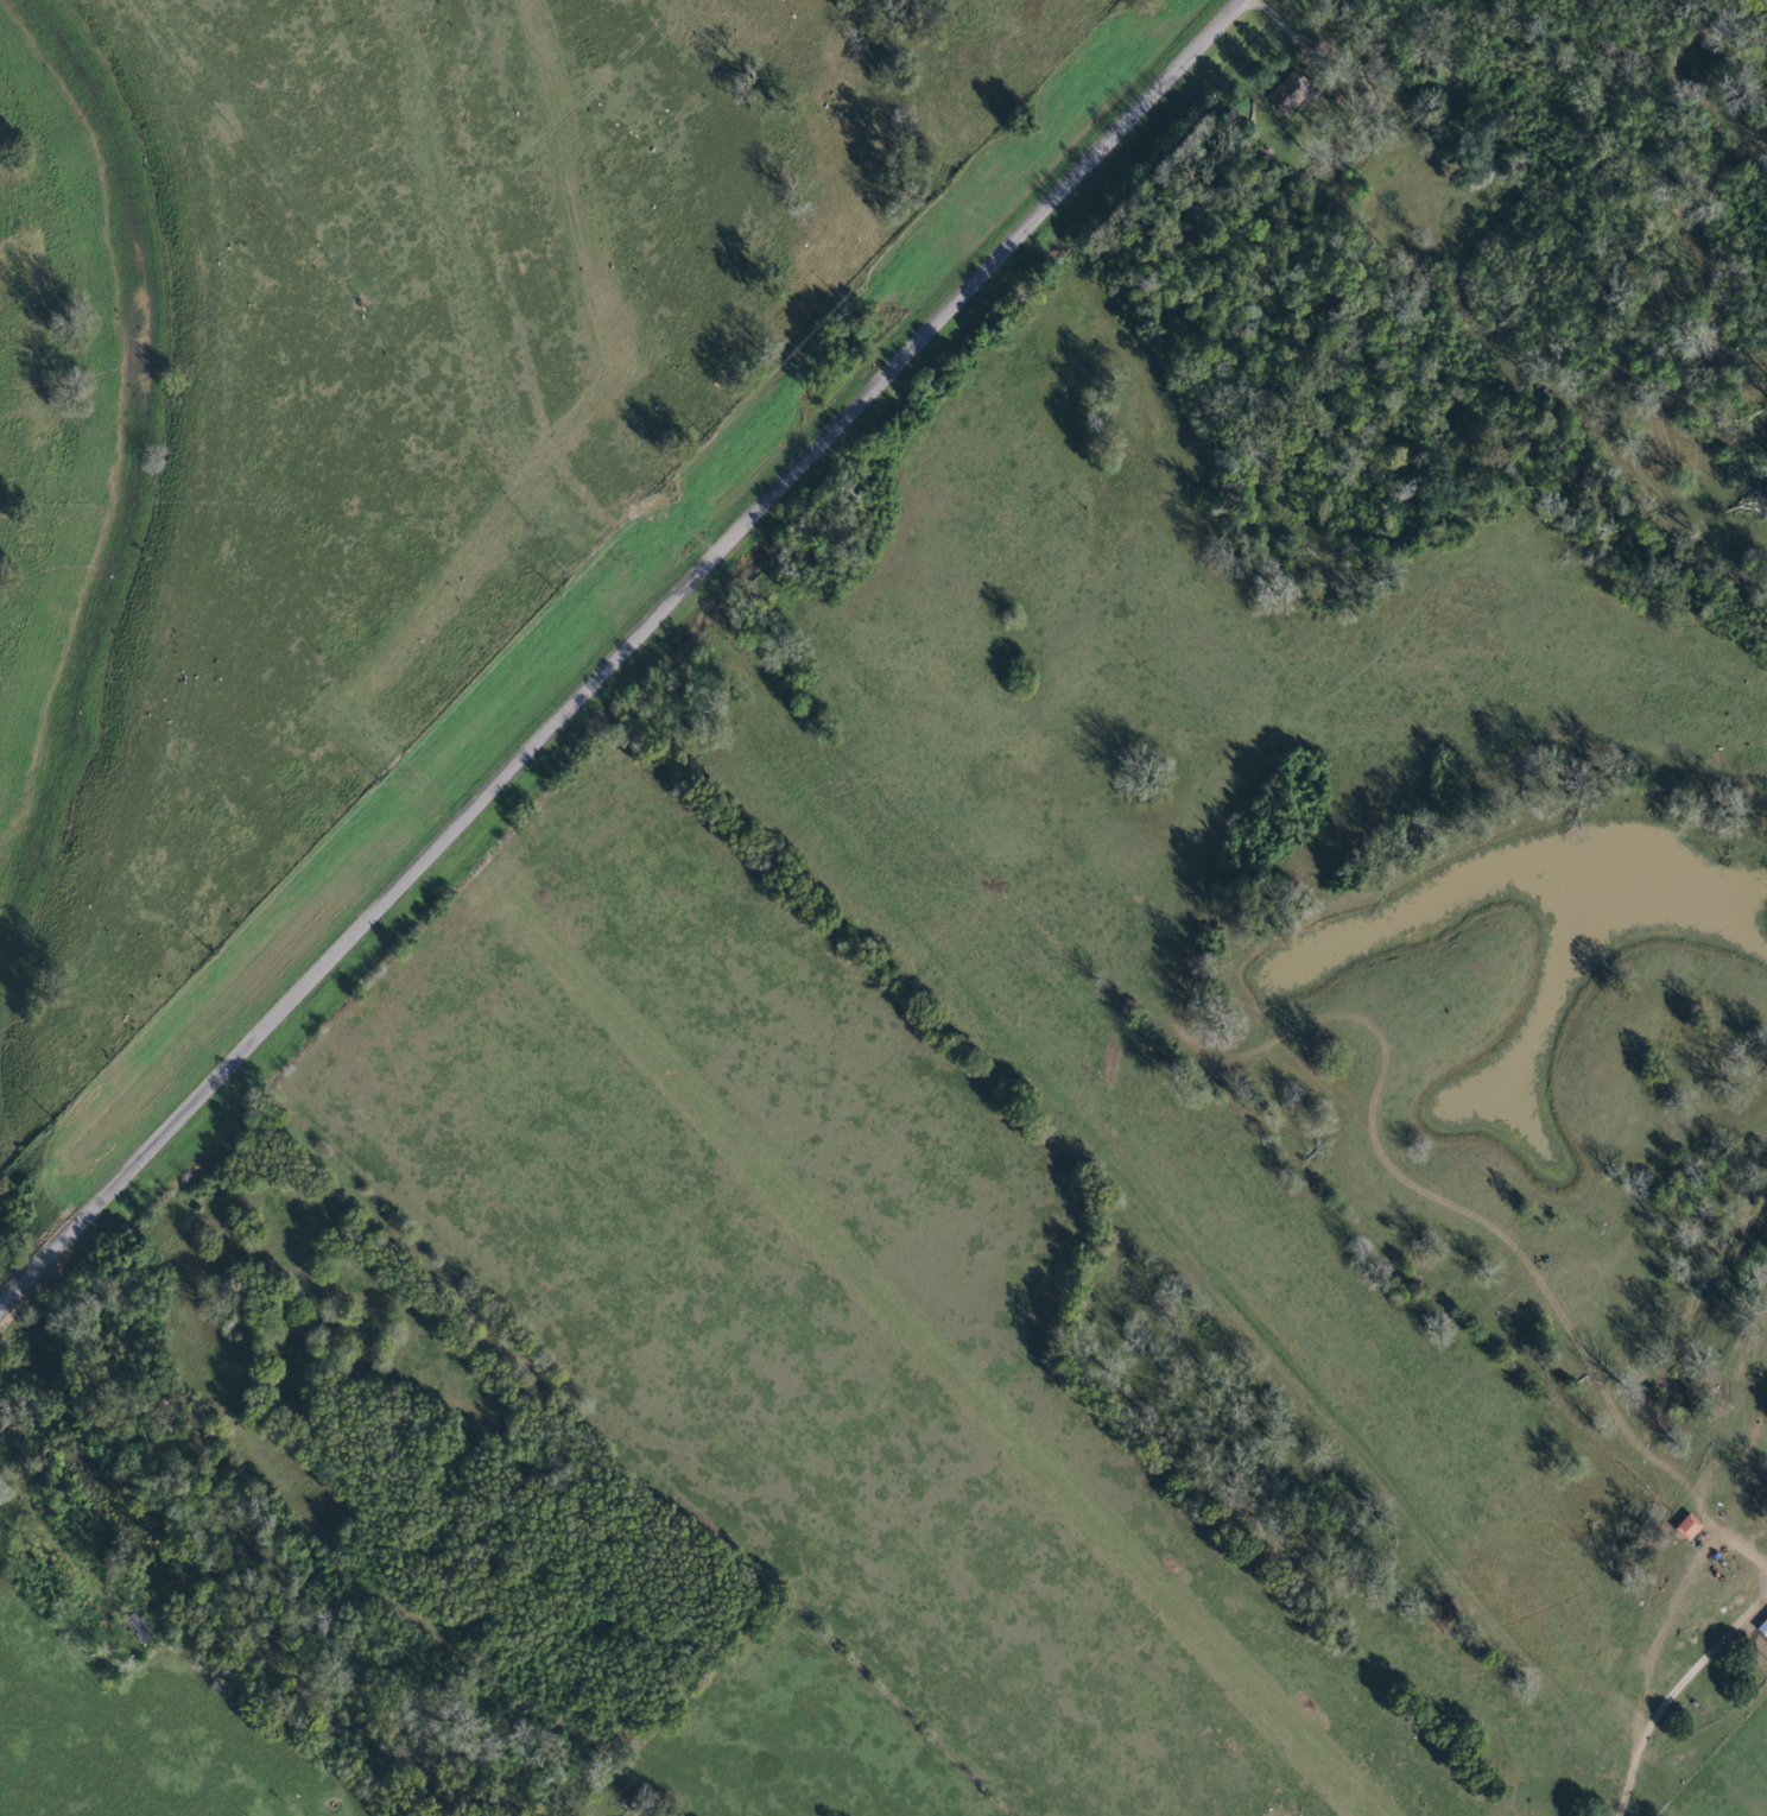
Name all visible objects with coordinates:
building: (1281, 94)
road: (621, 647)
road: (36, 1517)
building: (1684, 1526)
road: (1738, 1543)
building: (1761, 1626)

